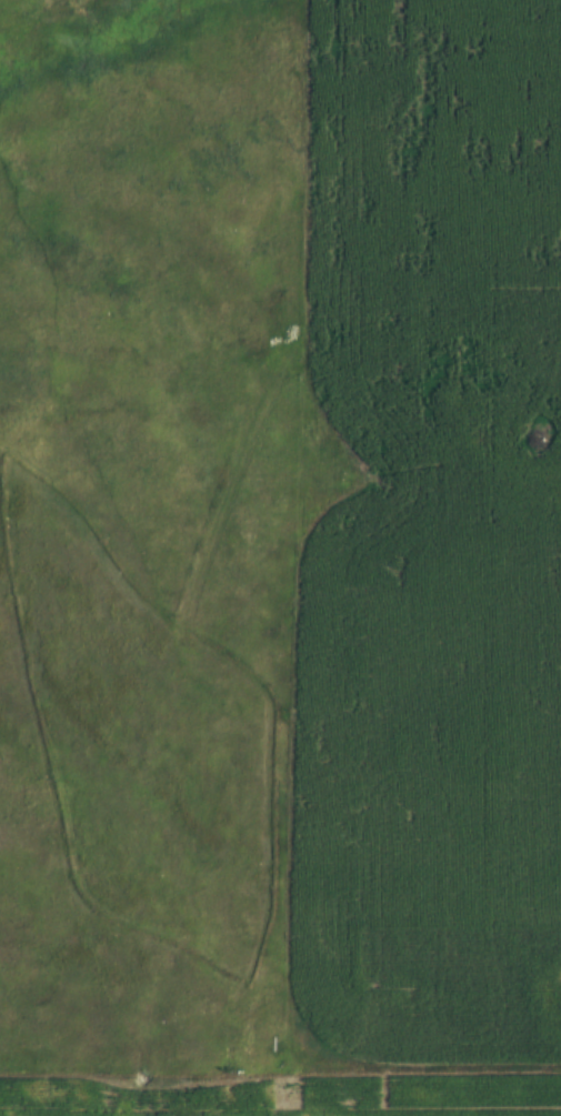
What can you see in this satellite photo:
crop: (430, 536)
crop: (282, 1095)

